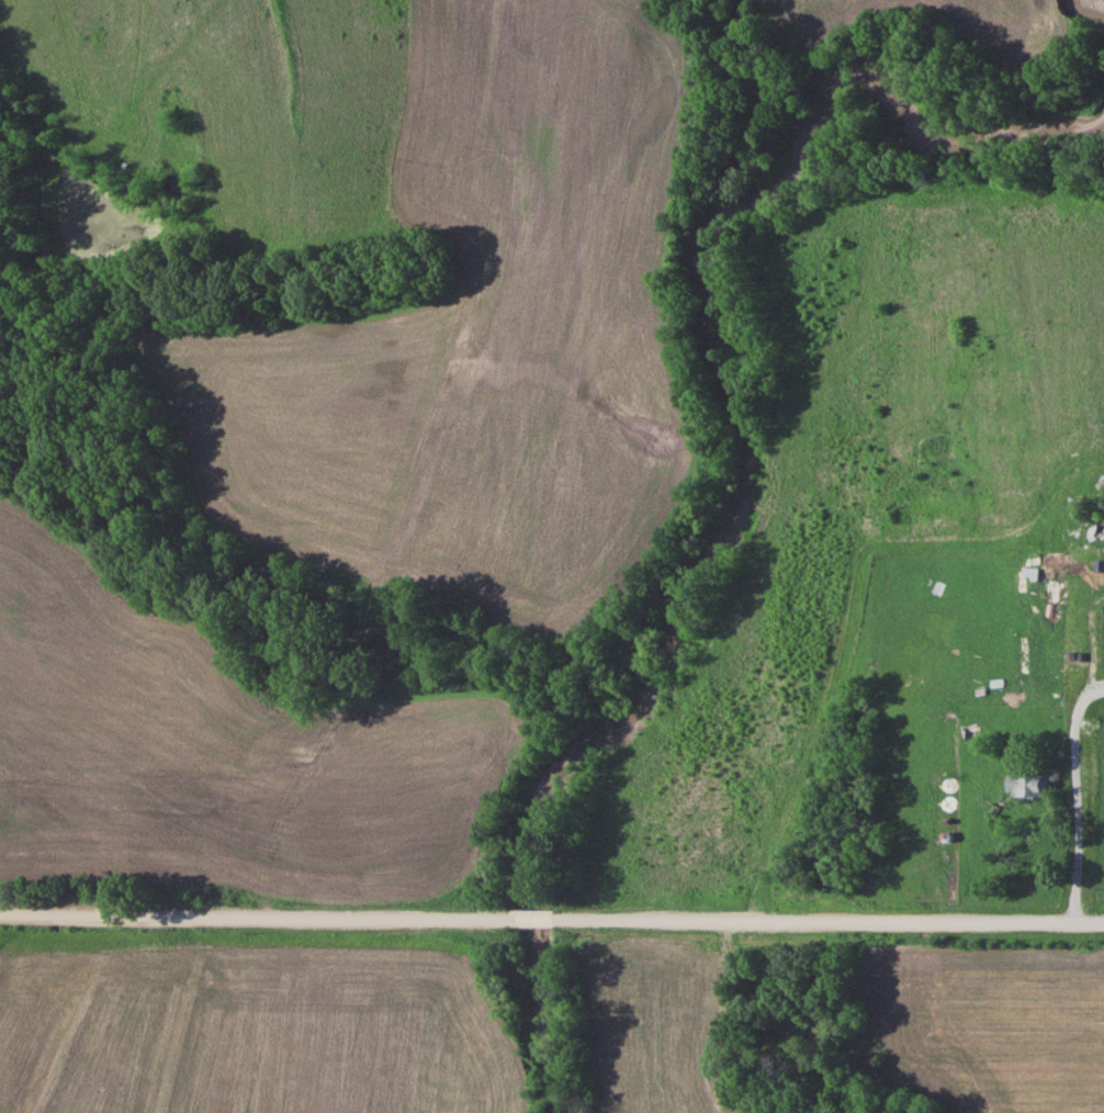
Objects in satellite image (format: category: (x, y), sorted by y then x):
building: (1093, 535)
building: (1028, 570)
building: (1024, 782)
road: (252, 911)
road: (528, 914)
road: (826, 917)

